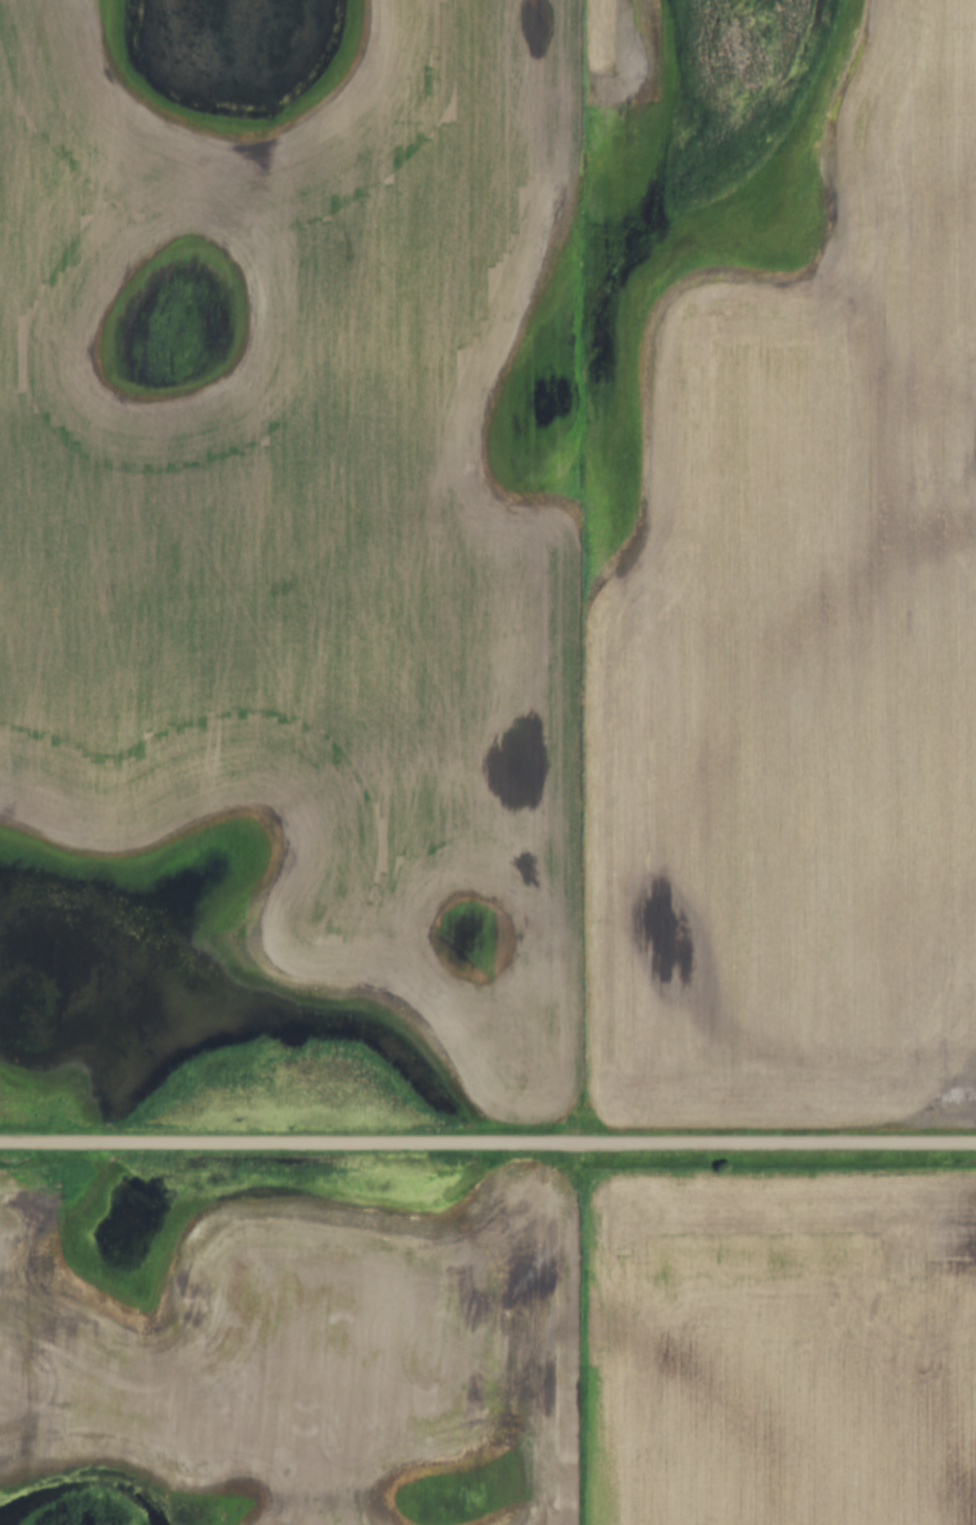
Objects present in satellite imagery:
road: (487, 1145)

